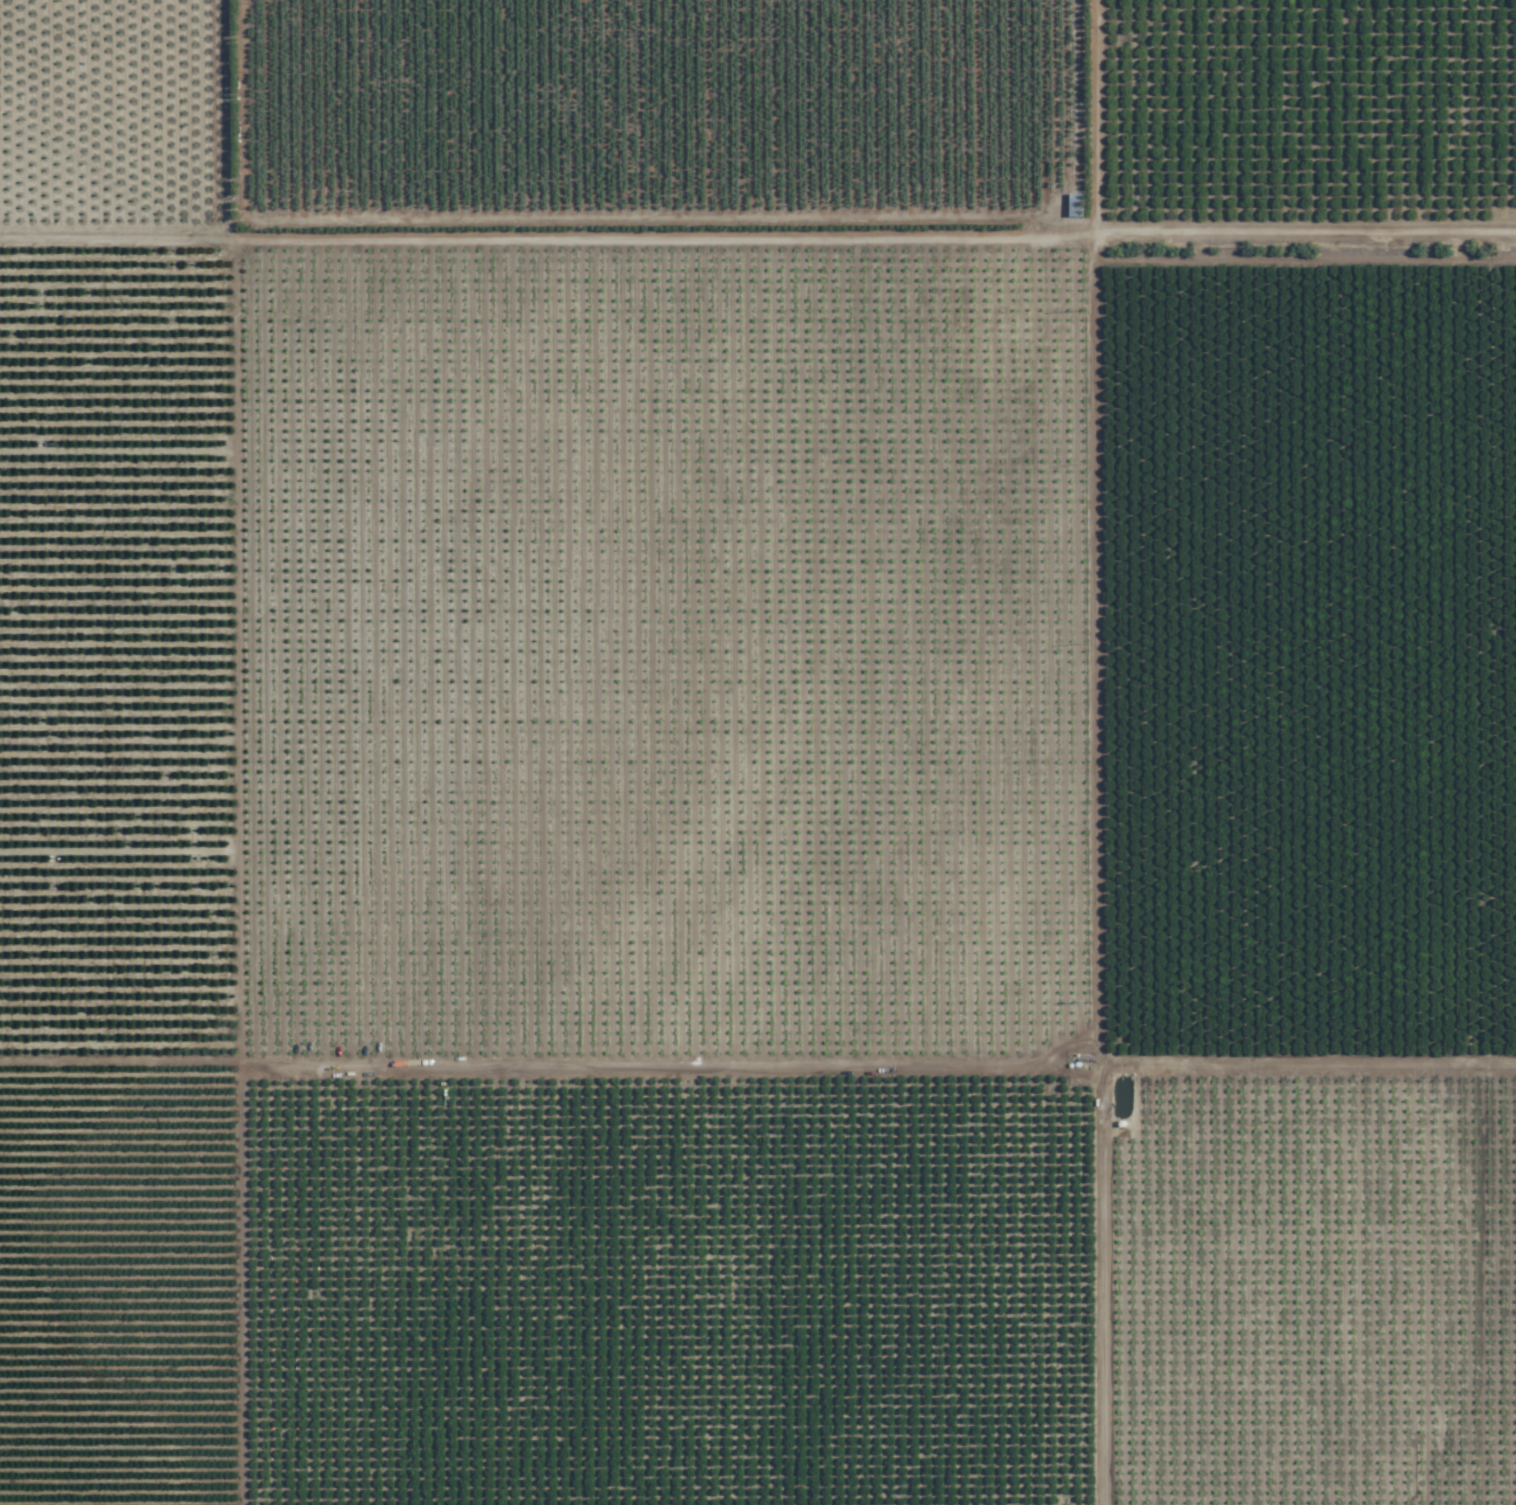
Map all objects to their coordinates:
road: (1307, 230)
wastewater plant: (1025, 310)
crop: (758, 752)
road: (1102, 752)

